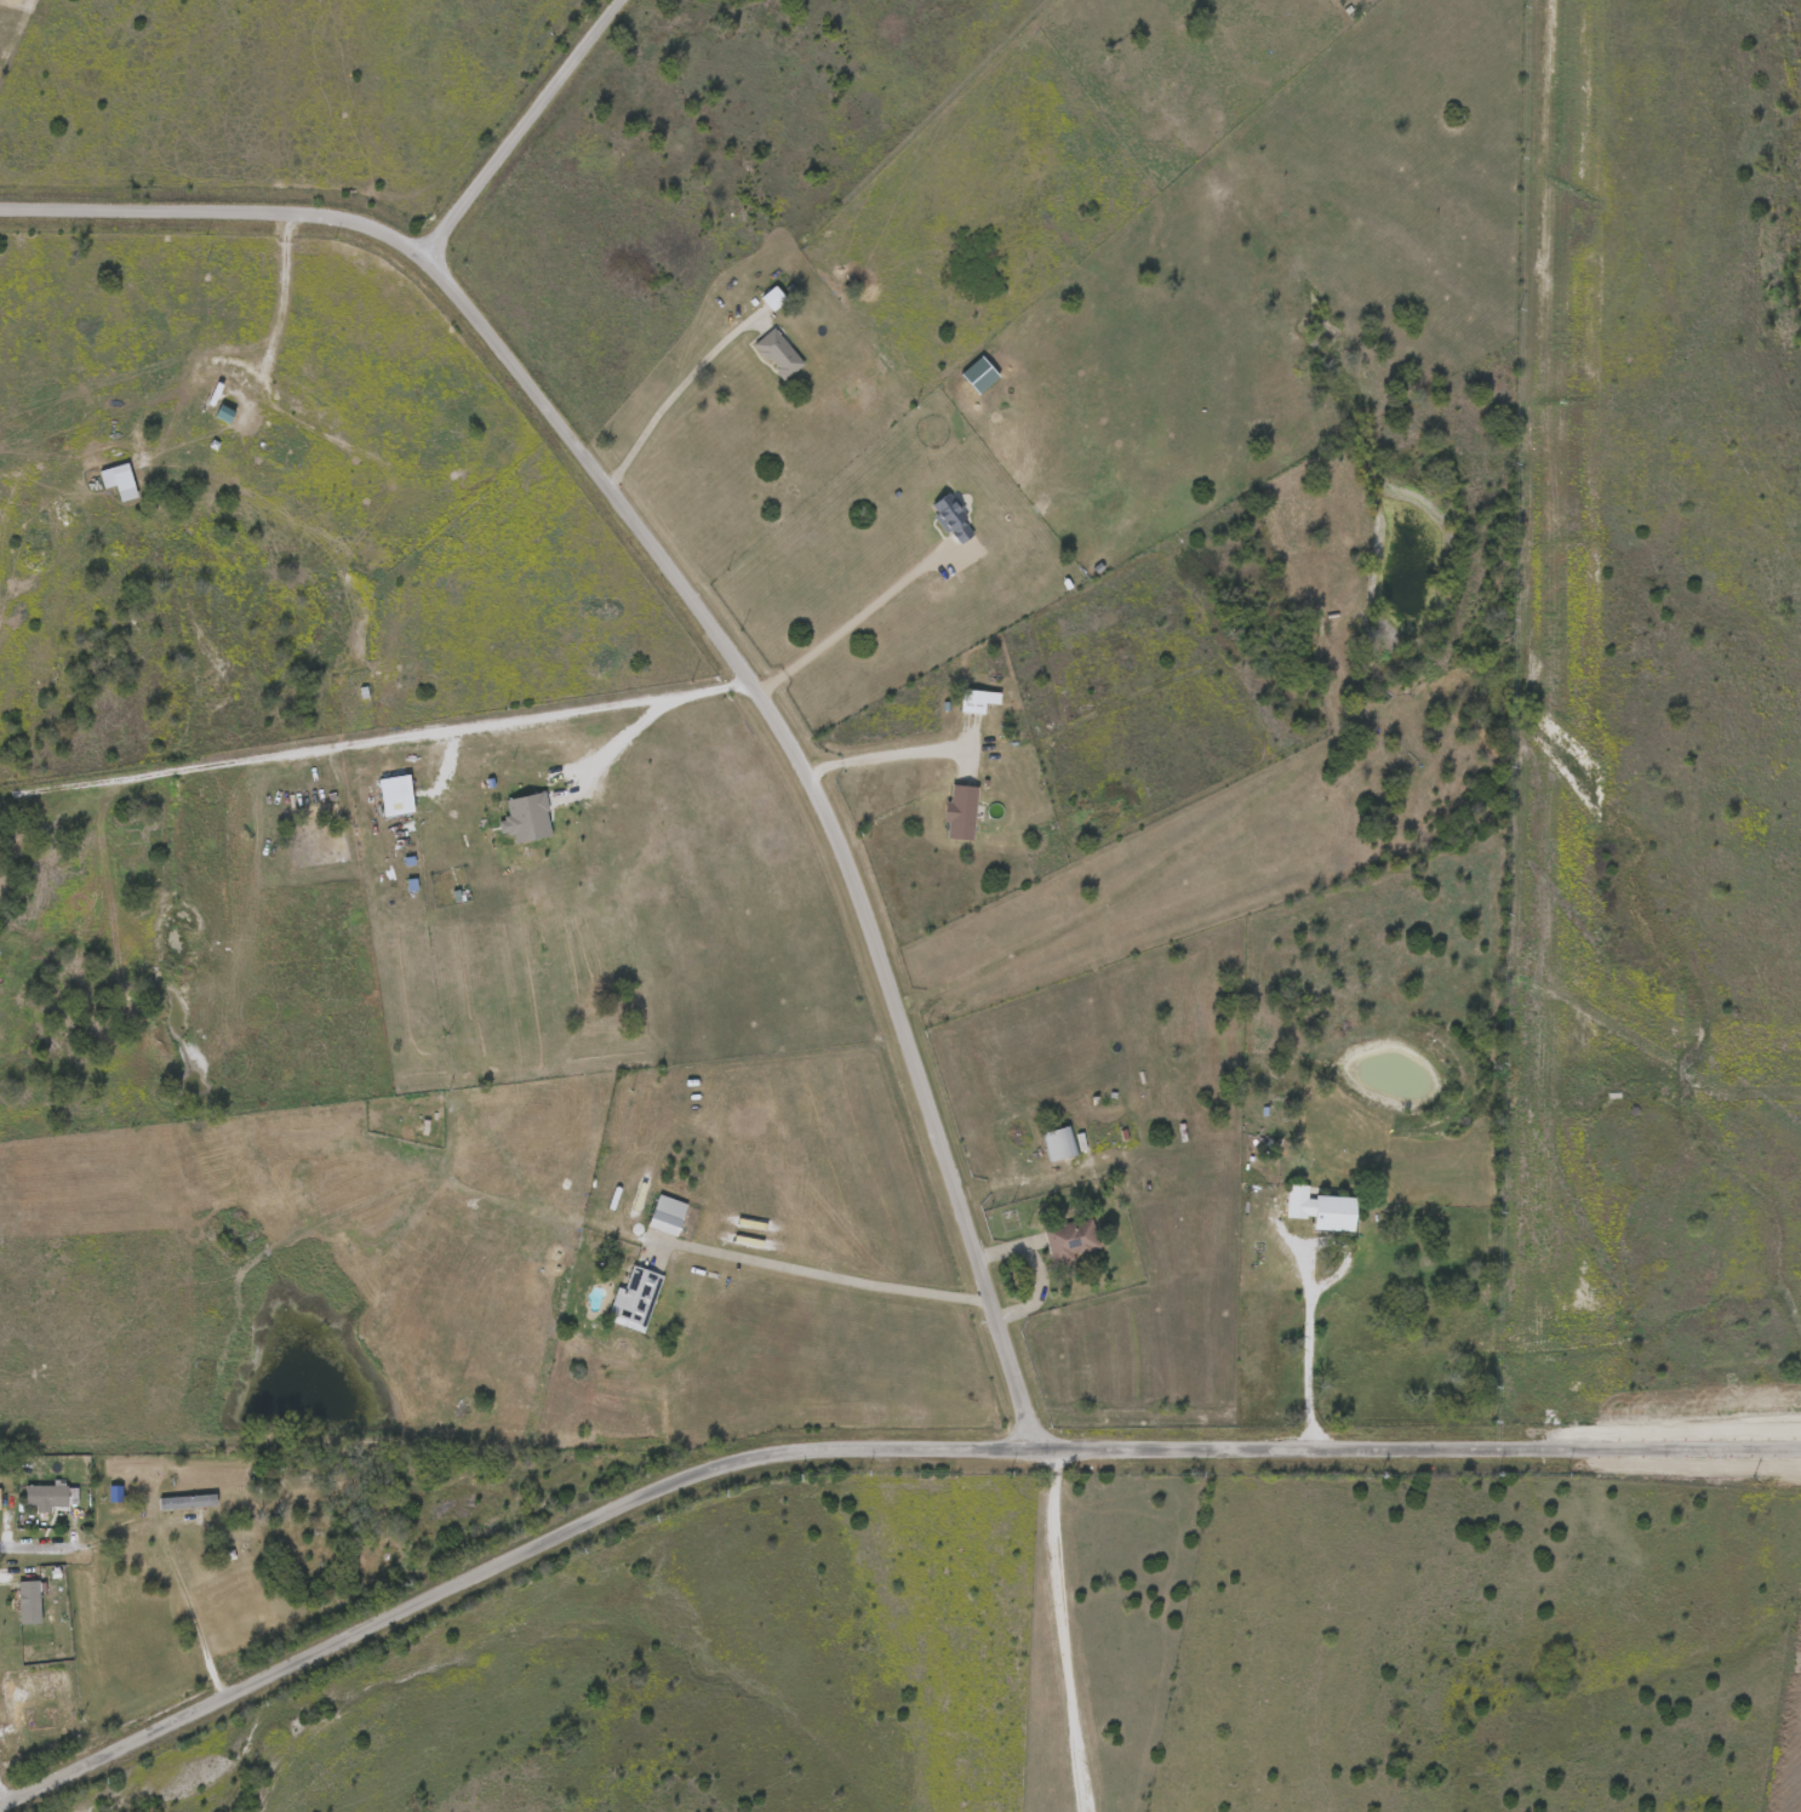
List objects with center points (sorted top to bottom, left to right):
road: (519, 128)
road: (287, 227)
building: (774, 297)
road: (282, 299)
building: (779, 353)
road: (676, 389)
building: (225, 412)
building: (127, 490)
building: (953, 518)
road: (852, 619)
road: (704, 621)
building: (977, 699)
road: (383, 739)
road: (613, 741)
road: (894, 751)
road: (822, 766)
building: (961, 811)
building: (1059, 1142)
building: (1322, 1207)
building: (668, 1213)
building: (1073, 1239)
road: (1039, 1268)
road: (833, 1275)
building: (638, 1296)
road: (1305, 1342)
road: (861, 1447)
building: (48, 1496)
building: (0, 1497)
road: (36, 1542)
road: (171, 1567)
building: (29, 1601)
road: (1060, 1630)
building: (30, 1710)

